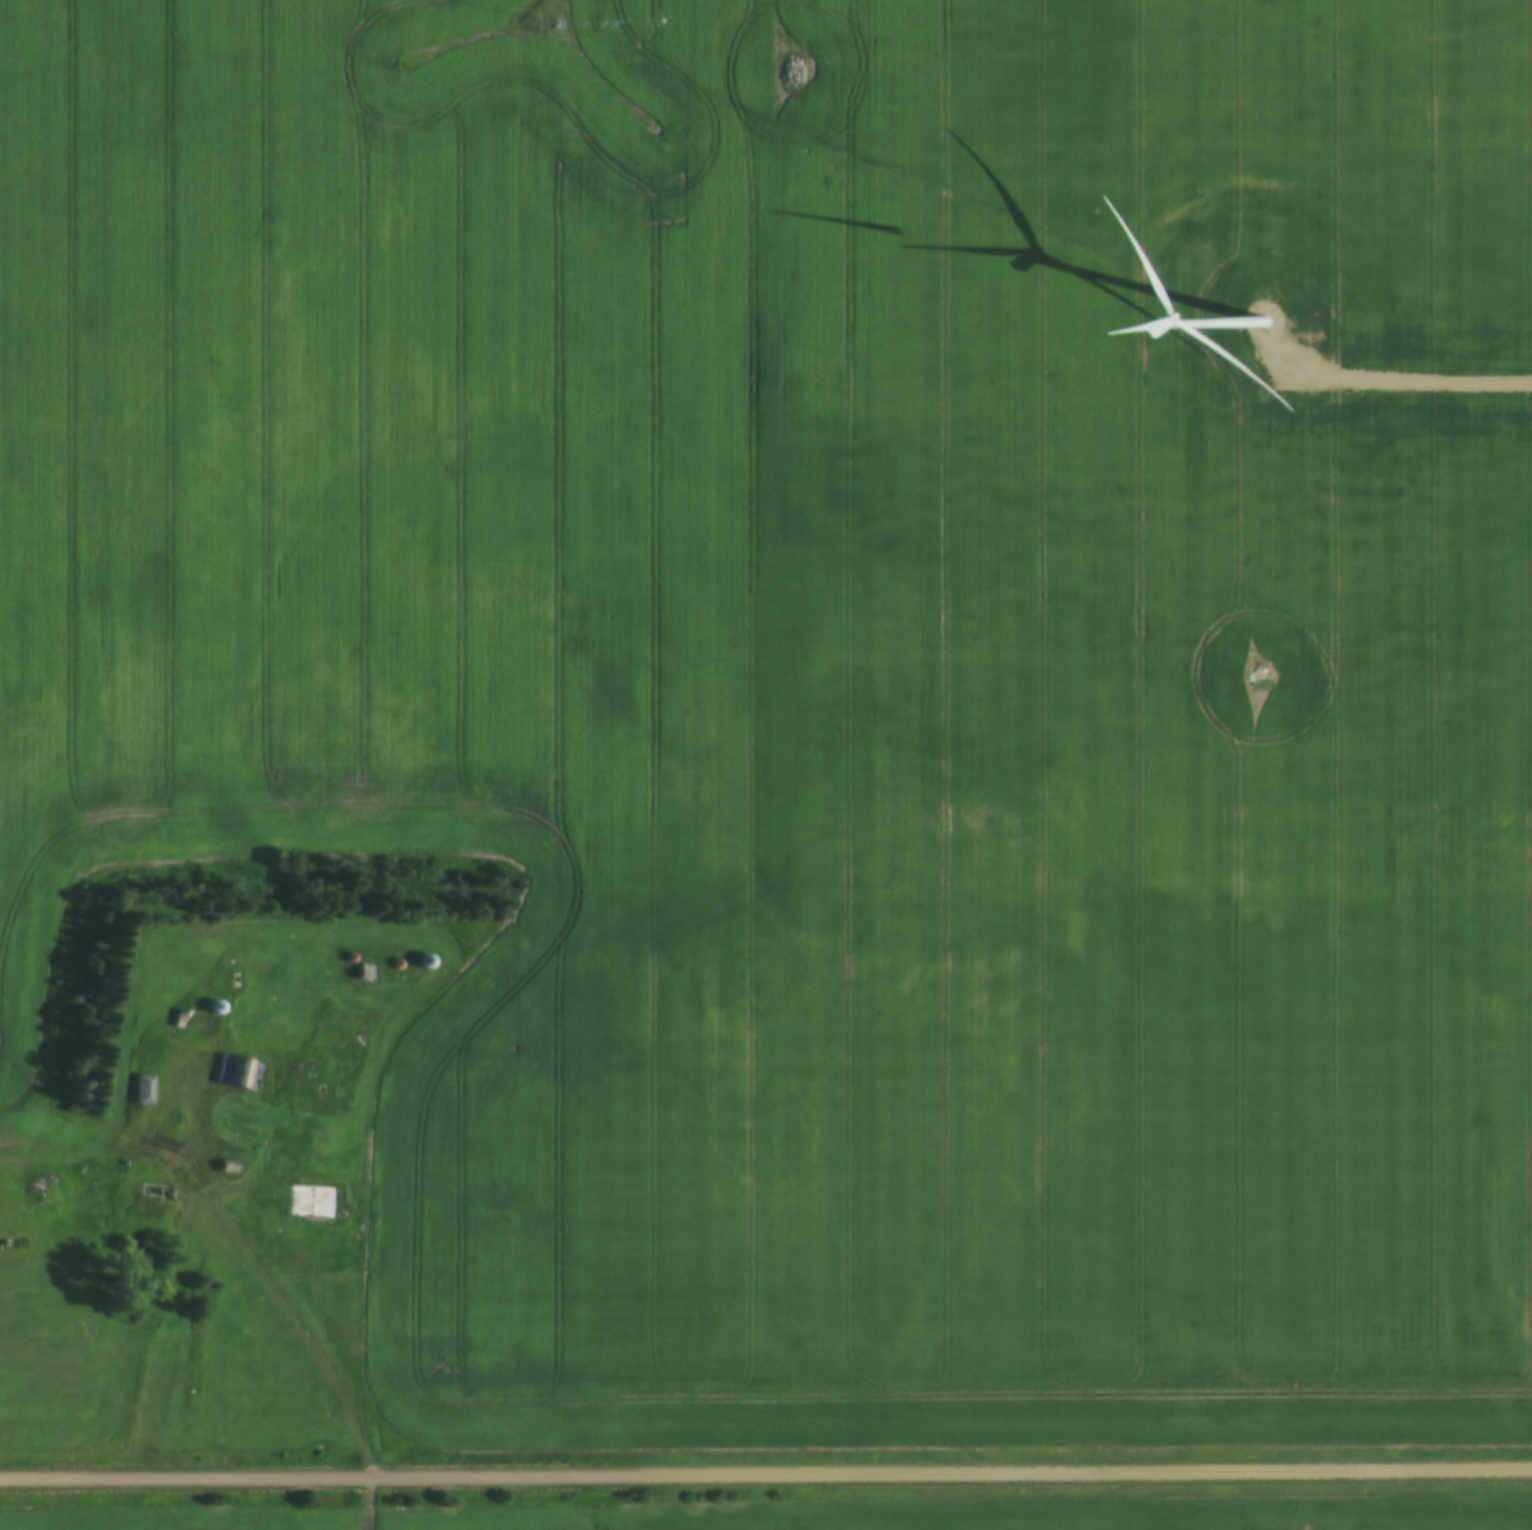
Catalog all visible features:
wind turbine: (1271, 326)
building: (426, 963)
building: (367, 975)
building: (215, 1008)
building: (185, 1015)
building: (239, 1073)
building: (307, 1082)
building: (144, 1090)
building: (155, 1193)
building: (312, 1202)
road: (228, 1260)
road: (766, 1474)

